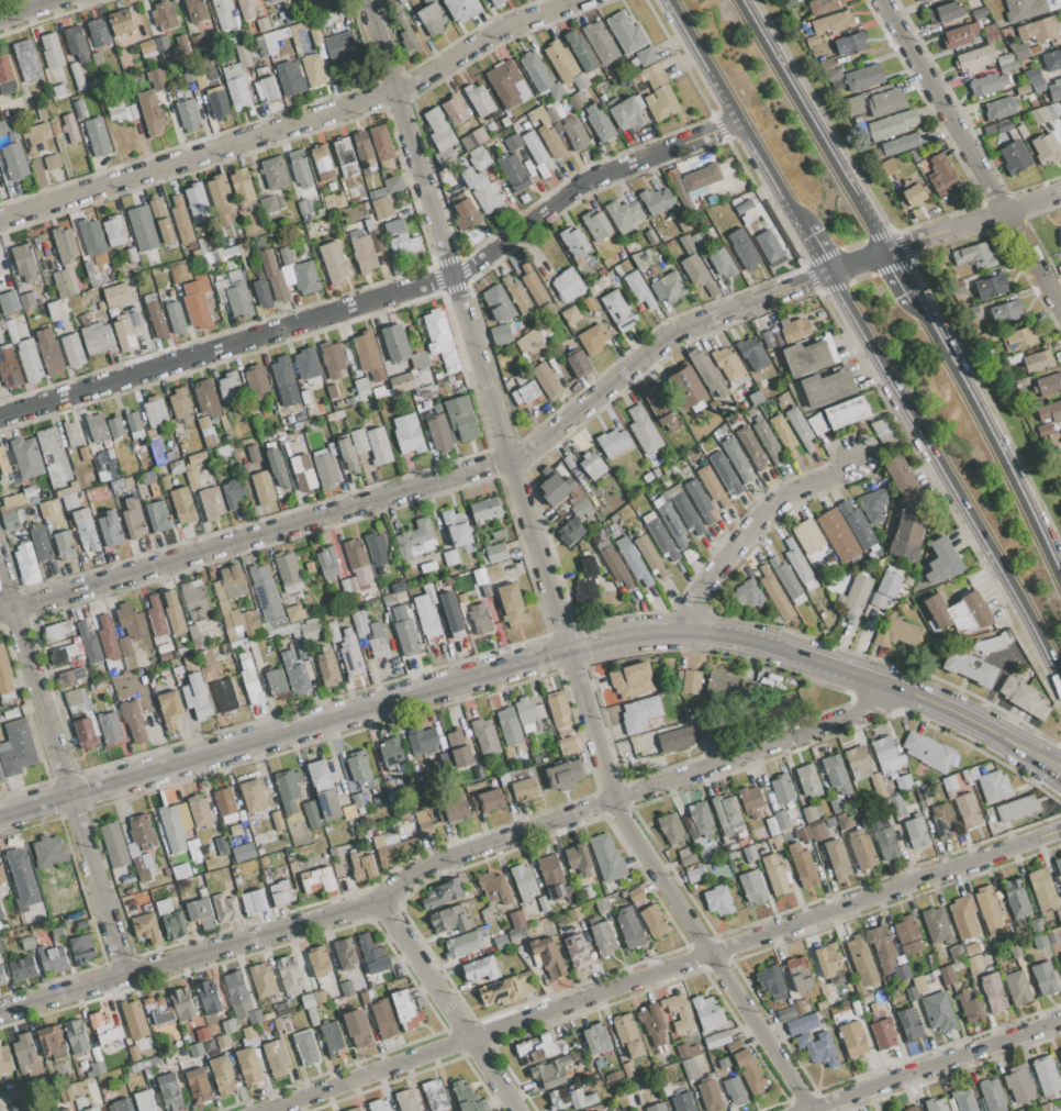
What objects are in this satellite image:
building: (271, 0)
building: (922, 0)
building: (335, 1)
building: (401, 1)
building: (496, 2)
building: (789, 2)
building: (315, 4)
building: (824, 5)
road: (24, 8)
building: (246, 8)
building: (462, 9)
building: (1025, 9)
building: (196, 10)
building: (945, 12)
building: (223, 13)
building: (979, 13)
building: (165, 15)
building: (289, 15)
building: (432, 19)
building: (328, 20)
building: (121, 21)
building: (833, 22)
building: (263, 24)
building: (298, 30)
building: (1039, 30)
building: (99, 33)
building: (280, 33)
building: (626, 33)
building: (990, 33)
building: (315, 35)
building: (960, 35)
building: (407, 36)
building: (813, 40)
building: (601, 42)
building: (76, 43)
building: (265, 43)
building: (850, 43)
building: (161, 45)
building: (337, 45)
building: (1012, 47)
building: (147, 49)
building: (1035, 49)
building: (52, 51)
building: (581, 51)
building: (1020, 51)
building: (244, 55)
building: (646, 56)
building: (97, 58)
building: (975, 58)
building: (1003, 59)
building: (27, 60)
building: (560, 60)
building: (1052, 60)
building: (826, 64)
building: (1008, 66)
building: (263, 70)
building: (313, 70)
building: (210, 71)
building: (834, 74)
building: (1032, 75)
building: (77, 76)
building: (539, 76)
building: (7, 77)
building: (289, 78)
building: (863, 78)
building: (157, 79)
building: (581, 81)
building: (504, 82)
building: (626, 82)
building: (836, 84)
building: (986, 85)
building: (236, 86)
building: (1038, 86)
building: (269, 88)
building: (1023, 89)
building: (60, 90)
building: (1054, 90)
building: (657, 91)
building: (578, 99)
building: (479, 100)
building: (217, 101)
building: (567, 102)
building: (886, 102)
building: (1034, 103)
building: (853, 104)
building: (999, 109)
building: (79, 110)
building: (454, 110)
building: (1052, 110)
building: (121, 111)
road: (736, 111)
building: (152, 112)
building: (42, 113)
building: (627, 113)
building: (188, 114)
building: (540, 114)
building: (552, 114)
building: (1038, 114)
building: (530, 116)
building: (512, 120)
building: (522, 120)
building: (857, 120)
road: (293, 122)
building: (504, 122)
building: (600, 122)
building: (490, 125)
road: (809, 125)
building: (891, 125)
building: (5, 126)
building: (998, 126)
building: (55, 129)
building: (69, 129)
building: (439, 130)
building: (1021, 131)
building: (576, 133)
road: (705, 134)
building: (479, 135)
building: (35, 136)
building: (97, 136)
building: (14, 137)
building: (381, 142)
building: (468, 142)
building: (513, 143)
building: (552, 143)
building: (904, 143)
building: (1046, 148)
building: (536, 149)
building: (364, 151)
road: (970, 152)
building: (345, 157)
building: (1015, 157)
building: (445, 158)
building: (479, 158)
building: (14, 162)
building: (52, 162)
building: (323, 162)
building: (388, 165)
building: (889, 166)
building: (301, 171)
building: (514, 171)
building: (273, 173)
building: (1, 176)
building: (941, 176)
building: (701, 179)
building: (393, 185)
building: (333, 186)
building: (243, 187)
building: (483, 190)
building: (680, 191)
building: (913, 192)
building: (377, 193)
building: (197, 198)
building: (221, 198)
building: (334, 201)
building: (656, 201)
building: (271, 203)
building: (745, 204)
building: (382, 208)
building: (302, 210)
road: (1002, 211)
building: (466, 214)
building: (623, 214)
building: (182, 219)
building: (161, 221)
building: (595, 224)
building: (368, 225)
building: (753, 225)
building: (143, 229)
building: (484, 229)
road: (438, 230)
building: (113, 231)
building: (1059, 234)
building: (92, 236)
building: (650, 236)
building: (228, 241)
building: (574, 242)
building: (696, 242)
building: (259, 243)
building: (65, 244)
building: (405, 244)
building: (688, 244)
building: (769, 244)
building: (744, 248)
road: (815, 248)
road: (885, 249)
building: (362, 252)
building: (131, 255)
building: (215, 255)
building: (287, 255)
building: (974, 256)
building: (622, 257)
building: (639, 260)
building: (24, 262)
building: (334, 262)
building: (722, 263)
building: (611, 264)
building: (600, 270)
building: (617, 270)
building: (180, 273)
building: (697, 274)
road: (896, 274)
building: (273, 275)
building: (93, 276)
building: (305, 277)
road: (801, 282)
building: (63, 284)
building: (534, 284)
building: (568, 285)
building: (986, 286)
building: (669, 287)
building: (639, 289)
building: (116, 292)
building: (166, 293)
building: (261, 293)
building: (517, 295)
building: (149, 298)
building: (238, 299)
building: (27, 300)
building: (197, 301)
building: (9, 302)
building: (37, 302)
building: (499, 303)
building: (589, 303)
building: (101, 307)
building: (172, 307)
building: (58, 308)
road: (346, 308)
building: (618, 310)
building: (1007, 311)
building: (973, 313)
building: (571, 315)
building: (83, 319)
building: (157, 320)
building: (1, 324)
building: (794, 329)
building: (123, 330)
building: (11, 331)
building: (437, 331)
building: (502, 333)
building: (97, 337)
building: (985, 337)
building: (1019, 337)
building: (593, 338)
building: (529, 340)
building: (768, 340)
building: (395, 343)
building: (418, 349)
building: (72, 351)
building: (49, 353)
building: (752, 353)
building: (368, 355)
building: (808, 357)
building: (333, 358)
building: (418, 359)
building: (30, 360)
building: (449, 360)
building: (577, 362)
building: (1037, 362)
road: (635, 363)
building: (308, 365)
building: (728, 365)
building: (9, 367)
building: (707, 373)
building: (282, 374)
building: (421, 376)
building: (437, 376)
building: (546, 379)
building: (256, 381)
building: (398, 384)
building: (1048, 384)
building: (230, 387)
building: (688, 387)
building: (827, 387)
building: (525, 388)
building: (361, 389)
building: (332, 390)
building: (427, 390)
building: (379, 391)
building: (304, 396)
building: (206, 397)
building: (753, 399)
building: (349, 400)
building: (338, 403)
building: (367, 404)
building: (659, 404)
building: (181, 405)
building: (382, 405)
building: (156, 411)
building: (1049, 411)
building: (847, 412)
building: (338, 414)
building: (301, 416)
building: (461, 418)
building: (214, 419)
building: (735, 419)
building: (133, 421)
building: (202, 423)
building: (224, 423)
building: (312, 424)
building: (816, 424)
building: (97, 426)
building: (115, 426)
building: (800, 427)
building: (438, 430)
building: (644, 430)
building: (1043, 430)
building: (883, 431)
building: (71, 433)
building: (280, 433)
building: (407, 433)
building: (719, 433)
building: (1060, 433)
building: (783, 434)
building: (208, 436)
building: (1052, 436)
building: (766, 438)
road: (990, 438)
building: (613, 443)
building: (372, 444)
building: (182, 446)
building: (750, 447)
building: (284, 448)
building: (332, 448)
building: (157, 452)
building: (224, 452)
building: (85, 453)
building: (243, 453)
building: (53, 455)
building: (348, 455)
building: (107, 456)
building: (26, 457)
building: (736, 458)
building: (1059, 458)
building: (198, 459)
building: (568, 462)
building: (277, 466)
building: (592, 466)
building: (3, 467)
building: (325, 471)
building: (667, 471)
building: (303, 473)
building: (656, 473)
building: (725, 473)
building: (102, 476)
road: (948, 476)
building: (647, 477)
building: (193, 479)
building: (129, 480)
building: (165, 482)
building: (263, 486)
building: (712, 486)
building: (554, 487)
building: (908, 488)
building: (67, 489)
building: (29, 491)
building: (232, 493)
building: (576, 496)
building: (32, 499)
building: (699, 500)
building: (13, 503)
building: (212, 503)
building: (183, 504)
building: (873, 504)
building: (46, 509)
building: (582, 509)
building: (684, 509)
building: (485, 510)
building: (158, 515)
building: (134, 518)
building: (10, 521)
building: (670, 521)
building: (81, 522)
building: (857, 525)
building: (457, 527)
road: (757, 527)
building: (110, 529)
building: (570, 532)
building: (499, 534)
building: (907, 534)
road: (264, 535)
building: (838, 535)
building: (659, 536)
building: (413, 538)
building: (811, 538)
building: (41, 543)
building: (65, 545)
building: (378, 552)
building: (647, 552)
building: (494, 553)
building: (690, 555)
building: (633, 560)
building: (942, 560)
building: (451, 562)
building: (26, 563)
building: (327, 563)
building: (612, 563)
building: (798, 565)
building: (589, 566)
building: (356, 567)
building: (428, 567)
building: (310, 568)
building: (289, 571)
building: (493, 573)
building: (788, 580)
building: (482, 581)
building: (230, 584)
building: (399, 587)
building: (885, 589)
building: (585, 590)
building: (265, 592)
building: (775, 593)
building: (748, 595)
building: (857, 597)
building: (387, 599)
building: (194, 601)
building: (512, 604)
building: (298, 612)
building: (174, 613)
building: (958, 613)
road: (8, 614)
building: (428, 614)
building: (451, 614)
building: (156, 616)
building: (480, 618)
building: (131, 620)
building: (239, 622)
building: (278, 623)
building: (217, 630)
building: (56, 631)
building: (310, 631)
building: (333, 631)
building: (194, 633)
building: (896, 633)
building: (370, 634)
road: (622, 636)
building: (406, 637)
building: (108, 640)
building: (89, 644)
building: (992, 644)
building: (124, 646)
building: (225, 648)
building: (300, 648)
building: (186, 652)
building: (64, 654)
building: (351, 654)
road: (788, 654)
building: (165, 656)
building: (141, 657)
building: (204, 658)
building: (130, 664)
building: (327, 667)
building: (969, 668)
building: (294, 671)
building: (4, 673)
building: (70, 677)
building: (144, 679)
building: (632, 680)
building: (689, 680)
building: (249, 681)
building: (276, 682)
building: (721, 685)
building: (751, 690)
building: (225, 696)
building: (72, 697)
building: (197, 697)
building: (1024, 698)
building: (773, 707)
building: (170, 709)
building: (11, 713)
building: (527, 713)
building: (559, 713)
building: (639, 713)
building: (690, 718)
building: (133, 721)
road: (981, 721)
building: (510, 726)
building: (109, 727)
building: (86, 732)
road: (283, 732)
road: (982, 732)
building: (485, 736)
building: (682, 737)
building: (423, 740)
building: (567, 745)
building: (4, 746)
building: (18, 748)
building: (460, 748)
building: (928, 752)
building: (391, 753)
building: (884, 753)
building: (442, 760)
road: (65, 768)
building: (360, 768)
building: (863, 770)
building: (1, 774)
building: (836, 774)
building: (563, 775)
building: (965, 777)
building: (808, 780)
traffic signals: (1057, 781)
building: (903, 782)
building: (949, 784)
building: (992, 785)
building: (389, 786)
building: (782, 788)
building: (288, 789)
building: (324, 789)
building: (522, 789)
building: (922, 792)
building: (693, 796)
building: (254, 800)
building: (357, 800)
building: (488, 800)
building: (750, 800)
building: (228, 803)
road: (621, 803)
building: (835, 806)
building: (892, 807)
building: (1018, 809)
building: (199, 810)
building: (454, 811)
building: (968, 811)
building: (987, 811)
building: (348, 812)
building: (812, 812)
building: (312, 813)
building: (726, 813)
building: (701, 816)
building: (277, 820)
building: (686, 820)
building: (845, 821)
building: (942, 821)
building: (782, 822)
building: (426, 826)
building: (771, 826)
building: (171, 827)
building: (235, 829)
building: (670, 829)
building: (916, 831)
building: (142, 832)
building: (818, 832)
building: (366, 834)
building: (788, 837)
building: (884, 840)
building: (220, 843)
building: (778, 843)
building: (114, 844)
building: (733, 846)
building: (391, 847)
building: (196, 848)
building: (861, 848)
building: (133, 849)
building: (707, 849)
building: (333, 851)
building: (761, 851)
building: (49, 852)
building: (243, 852)
building: (749, 853)
building: (731, 855)
road: (449, 857)
building: (607, 857)
building: (685, 857)
building: (579, 858)
building: (802, 859)
building: (837, 859)
building: (1058, 865)
building: (144, 866)
building: (361, 866)
building: (293, 867)
building: (179, 870)
building: (236, 870)
building: (166, 871)
building: (2, 875)
building: (265, 875)
building: (694, 875)
building: (777, 875)
building: (555, 878)
building: (22, 879)
building: (237, 880)
building: (315, 881)
building: (523, 882)
building: (1060, 887)
building: (494, 888)
building: (752, 888)
building: (1042, 890)
building: (280, 891)
building: (202, 892)
building: (443, 893)
building: (587, 893)
building: (635, 895)
building: (1016, 898)
building: (718, 900)
building: (253, 901)
building: (543, 903)
building: (602, 904)
building: (987, 907)
building: (225, 908)
building: (201, 913)
building: (576, 913)
building: (1, 914)
building: (488, 914)
building: (1058, 915)
building: (963, 916)
building: (516, 918)
building: (451, 919)
building: (75, 920)
building: (171, 920)
building: (654, 920)
building: (1036, 925)
building: (936, 926)
building: (146, 927)
building: (629, 927)
building: (516, 933)
road: (766, 933)
building: (57, 934)
building: (907, 935)
building: (1052, 936)
building: (603, 938)
building: (1008, 938)
building: (1040, 940)
building: (501, 942)
building: (26, 943)
building: (464, 944)
building: (82, 948)
building: (971, 948)
building: (1015, 949)
building: (0, 951)
building: (577, 951)
building: (345, 953)
building: (956, 953)
building: (885, 954)
building: (1060, 954)
building: (372, 955)
building: (548, 956)
building: (52, 959)
building: (828, 959)
building: (862, 960)
building: (930, 960)
building: (974, 963)
building: (319, 964)
building: (959, 965)
building: (1059, 966)
building: (22, 968)
building: (480, 968)
building: (935, 973)
building: (289, 974)
building: (800, 974)
building: (946, 974)
building: (525, 976)
building: (2, 977)
building: (927, 977)
building: (1045, 979)
building: (263, 980)
building: (771, 981)
building: (918, 985)
building: (346, 987)
building: (1017, 988)
building: (499, 991)
building: (993, 993)
building: (237, 995)
building: (911, 995)
building: (321, 997)
building: (209, 998)
building: (308, 1000)
building: (181, 1004)
building: (820, 1006)
building: (855, 1006)
road: (448, 1007)
building: (801, 1007)
building: (873, 1008)
building: (282, 1009)
building: (970, 1009)
building: (159, 1010)
building: (405, 1011)
building: (679, 1011)
building: (938, 1012)
building: (707, 1013)
building: (785, 1014)
building: (255, 1016)
building: (312, 1016)
building: (134, 1019)
building: (384, 1019)
building: (96, 1020)
building: (278, 1024)
building: (909, 1024)
building: (228, 1025)
building: (287, 1025)
building: (654, 1026)
building: (796, 1026)
building: (356, 1027)
building: (813, 1031)
building: (249, 1033)
building: (202, 1034)
building: (883, 1034)
building: (110, 1035)
building: (627, 1035)
building: (332, 1038)
building: (596, 1038)
building: (852, 1038)
building: (186, 1040)
building: (717, 1040)
building: (52, 1042)
building: (76, 1042)
building: (222, 1042)
building: (208, 1046)
building: (306, 1048)
building: (537, 1048)
building: (818, 1048)
building: (197, 1049)
building: (686, 1051)
building: (25, 1052)
building: (134, 1053)
building: (183, 1053)
building: (1060, 1053)
building: (96, 1054)
building: (275, 1058)
building: (4, 1060)
building: (154, 1060)
building: (724, 1063)
road: (935, 1065)
building: (248, 1066)
building: (694, 1067)
building: (98, 1068)
building: (748, 1068)
building: (628, 1069)
building: (550, 1073)
road: (367, 1074)
building: (222, 1075)
building: (1047, 1076)
building: (1018, 1085)
building: (198, 1087)
building: (667, 1089)
building: (735, 1090)
building: (169, 1091)
building: (991, 1093)
building: (13, 1095)
building: (66, 1095)
building: (435, 1096)
building: (710, 1096)
building: (468, 1098)
building: (570, 1098)
building: (406, 1100)
building: (964, 1100)
building: (144, 1101)
building: (682, 1102)
building: (121, 1104)
building: (935, 1104)
building: (982, 1104)
building: (19, 1106)
building: (379, 1106)
building: (657, 1108)
building: (912, 1108)
building: (1054, 1108)
building: (91, 1109)
building: (354, 1109)
building: (66, 1110)
building: (589, 1110)
building: (596, 1110)
building: (1020, 1110)

